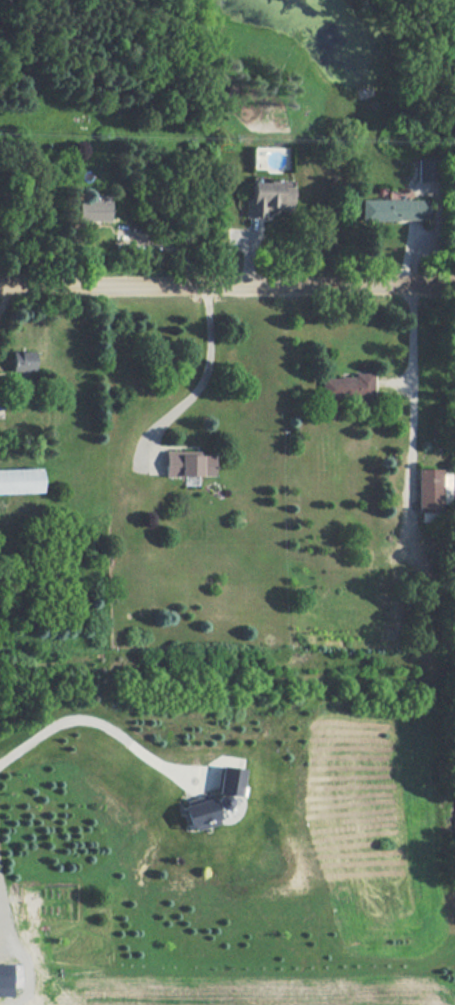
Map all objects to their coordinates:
building: (424, 169)
building: (269, 196)
building: (394, 209)
building: (93, 210)
road: (227, 282)
road: (7, 300)
building: (22, 361)
road: (210, 367)
building: (347, 387)
road: (415, 402)
building: (189, 463)
building: (20, 480)
road: (99, 722)
building: (230, 780)
building: (200, 812)
road: (2, 921)
building: (9, 977)

